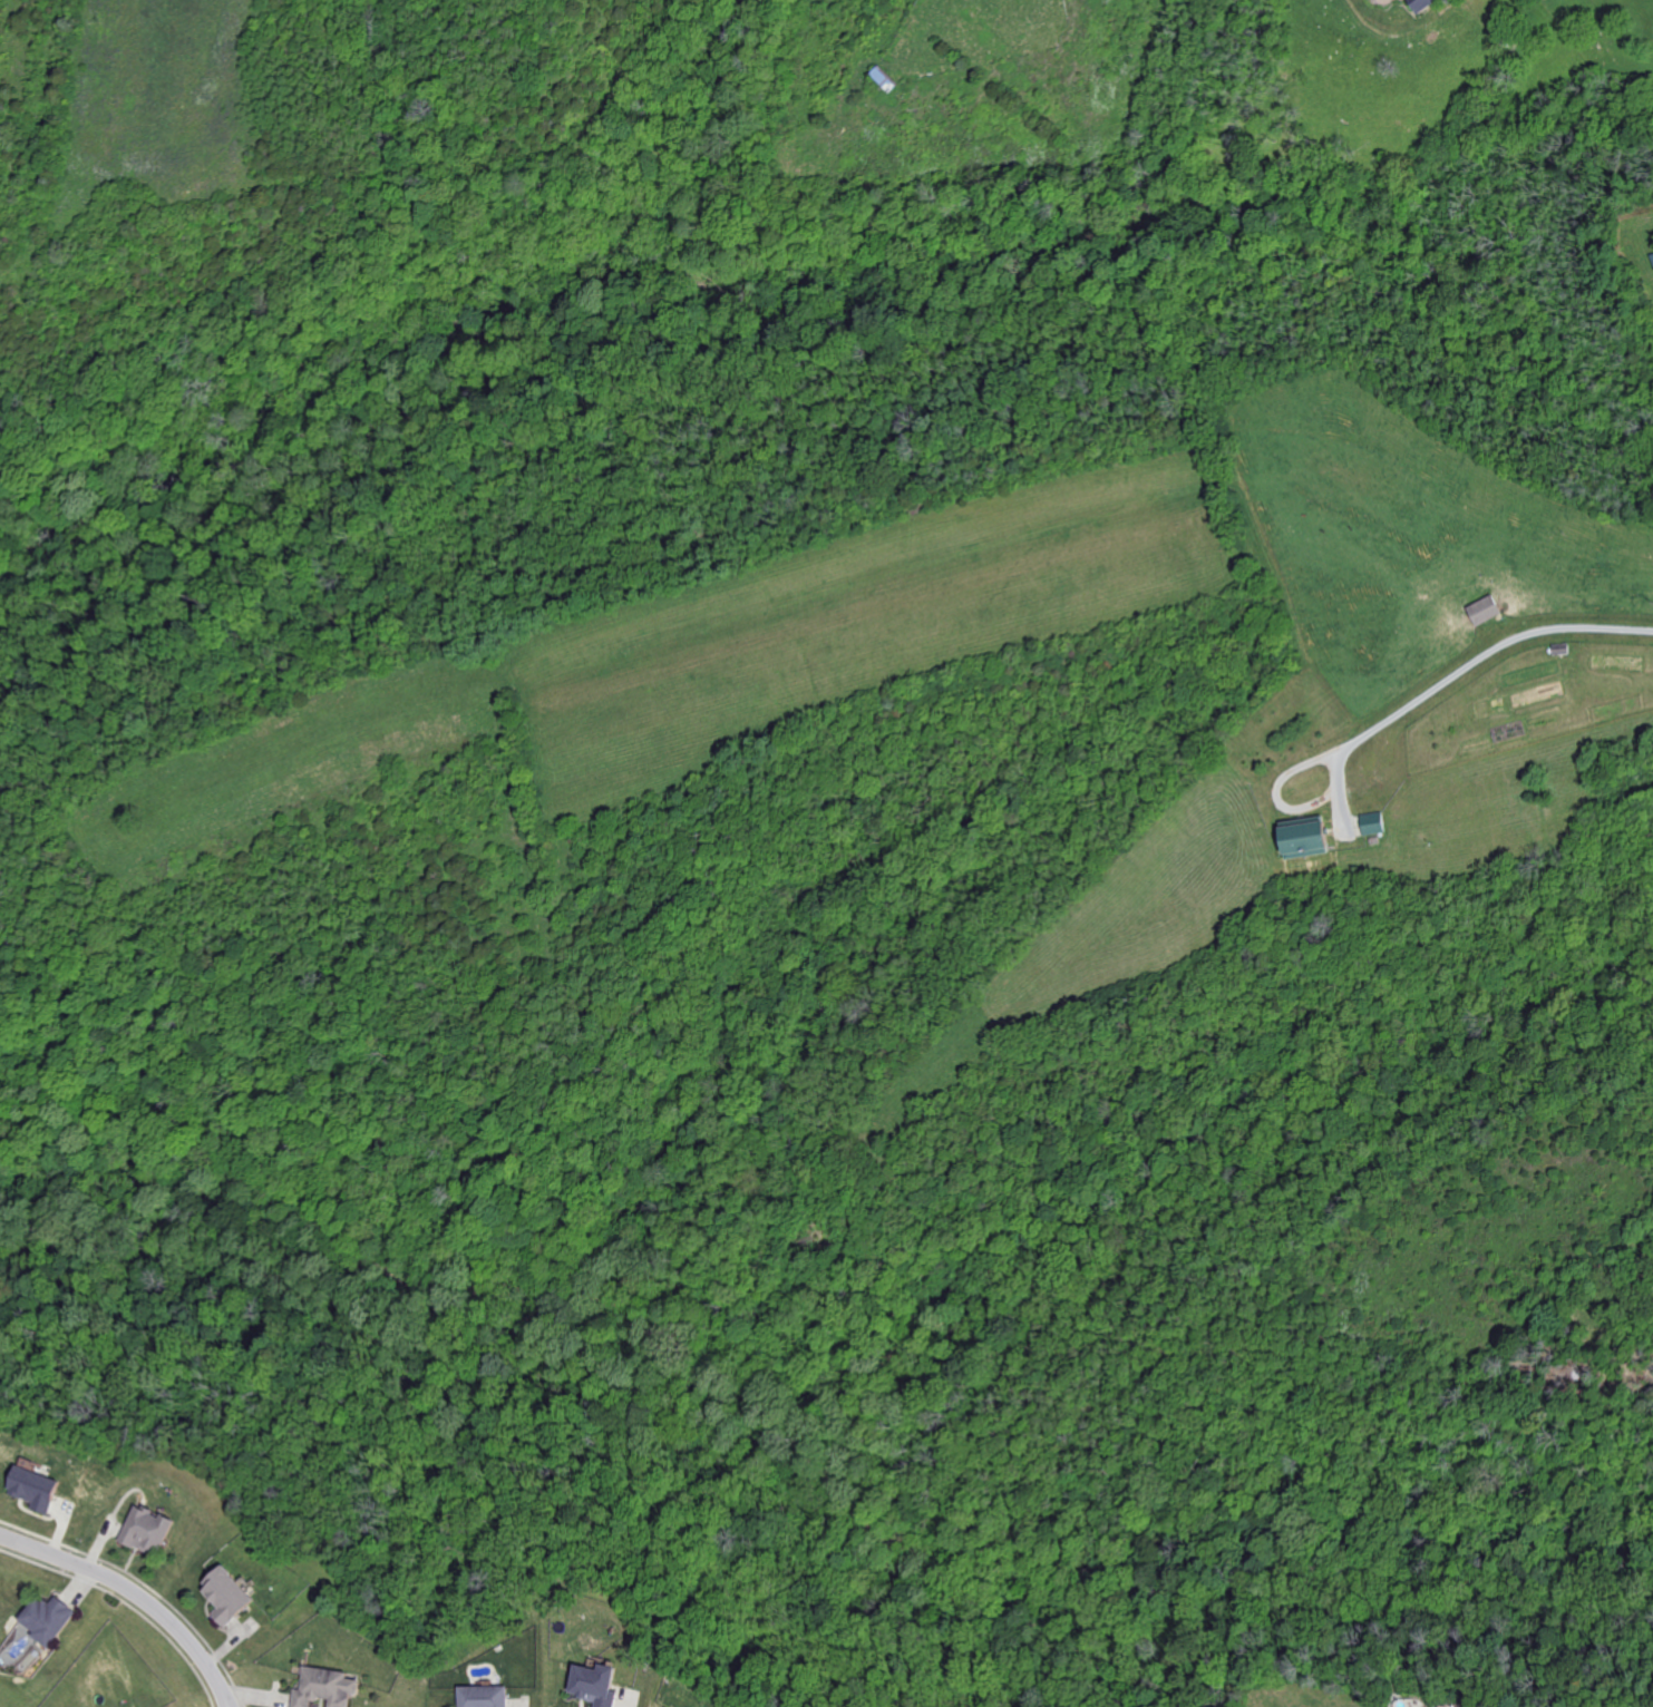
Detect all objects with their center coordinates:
building: (1419, 3)
building: (1482, 609)
road: (1485, 652)
road: (1338, 764)
building: (1371, 823)
building: (1300, 838)
building: (33, 1486)
building: (146, 1529)
road: (119, 1584)
building: (225, 1593)
building: (43, 1617)
building: (592, 1684)
building: (323, 1687)
road: (217, 1689)
road: (222, 1689)
building: (482, 1696)
building: (667, 1706)

